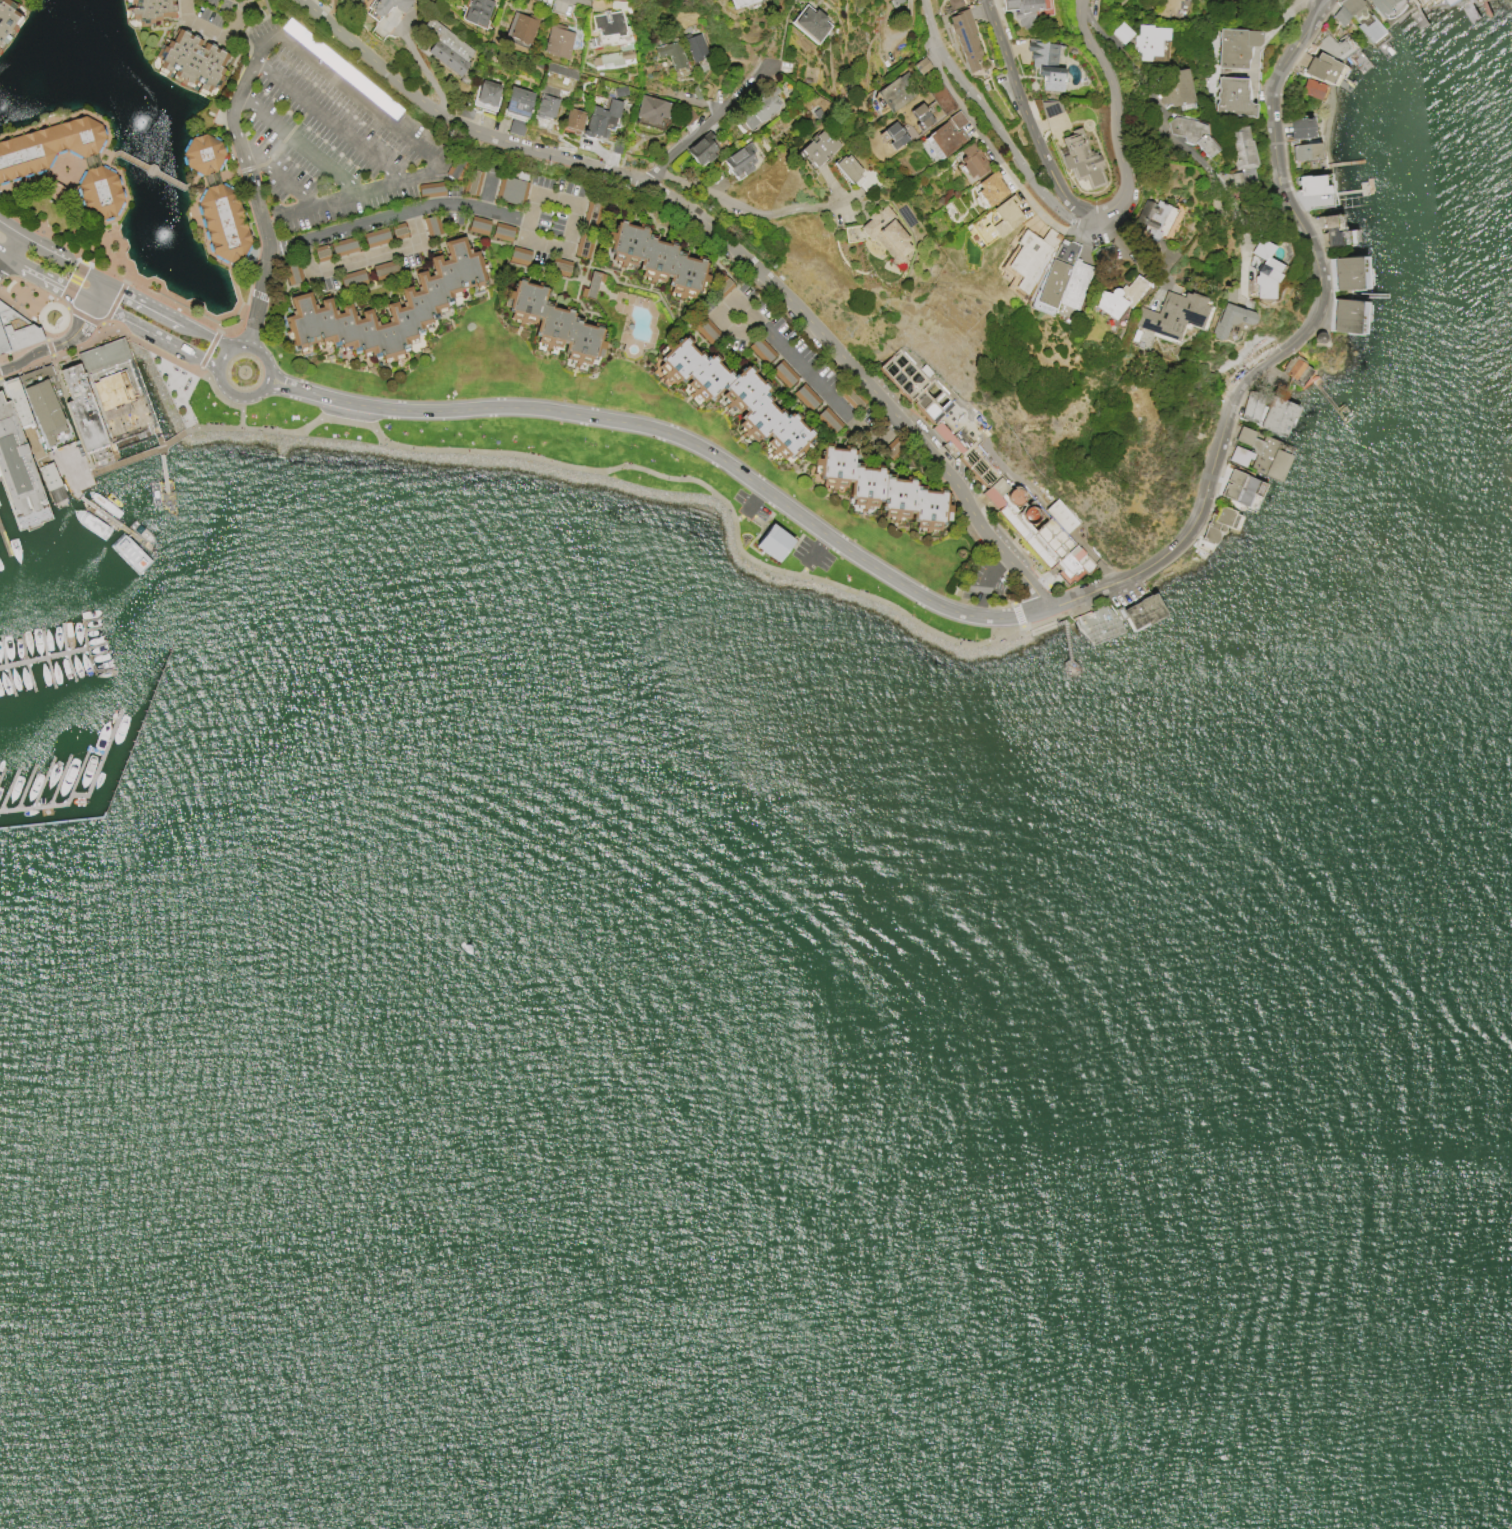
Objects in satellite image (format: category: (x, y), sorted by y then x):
road: (1322, 1)
building: (1511, 1)
building: (738, 2)
building: (1427, 2)
building: (1451, 2)
building: (953, 4)
building: (1383, 5)
building: (387, 6)
building: (896, 8)
building: (1164, 8)
building: (149, 10)
building: (476, 11)
building: (1023, 11)
building: (7, 18)
building: (1356, 18)
building: (810, 23)
building: (609, 24)
building: (520, 26)
building: (379, 29)
building: (1120, 32)
building: (964, 38)
road: (215, 39)
building: (556, 40)
building: (1148, 41)
building: (693, 46)
building: (1234, 46)
building: (1335, 46)
building: (447, 48)
building: (672, 55)
building: (612, 57)
building: (190, 60)
building: (1045, 64)
building: (920, 65)
building: (1319, 67)
building: (1174, 87)
building: (1312, 88)
building: (619, 90)
building: (896, 91)
building: (485, 92)
building: (1230, 97)
building: (940, 98)
road: (1153, 99)
building: (544, 106)
building: (759, 108)
building: (1050, 108)
building: (516, 109)
building: (647, 109)
road: (1028, 113)
building: (919, 115)
road: (1112, 116)
building: (599, 117)
building: (956, 119)
building: (571, 120)
road: (328, 121)
road: (989, 122)
road: (707, 125)
building: (1298, 127)
parking lot: (329, 133)
building: (1191, 134)
building: (893, 135)
building: (945, 138)
road: (298, 145)
building: (47, 146)
building: (819, 146)
building: (1239, 147)
building: (701, 148)
road: (423, 149)
building: (1305, 151)
building: (202, 154)
building: (739, 159)
building: (1080, 159)
building: (972, 160)
building: (847, 167)
building: (455, 168)
road: (275, 169)
road: (154, 171)
road: (56, 173)
road: (224, 177)
building: (471, 182)
road: (253, 184)
building: (1310, 185)
building: (990, 188)
building: (429, 189)
building: (510, 190)
building: (99, 191)
road: (1232, 206)
road: (748, 209)
road: (399, 213)
building: (591, 214)
building: (1150, 217)
building: (996, 220)
building: (222, 223)
building: (431, 225)
building: (478, 225)
building: (397, 231)
building: (501, 231)
building: (1329, 231)
building: (880, 234)
building: (375, 237)
road: (720, 240)
road: (5, 241)
road: (21, 243)
building: (583, 243)
road: (1144, 245)
building: (342, 246)
road: (561, 249)
road: (5, 252)
building: (320, 253)
building: (518, 255)
building: (1030, 256)
road: (363, 257)
road: (1242, 257)
building: (655, 258)
road: (68, 261)
building: (559, 266)
building: (1263, 269)
building: (384, 270)
building: (292, 273)
building: (1345, 273)
road: (46, 279)
building: (351, 279)
building: (1063, 283)
building: (591, 284)
building: (721, 286)
road: (98, 292)
building: (1119, 296)
building: (387, 307)
road: (169, 314)
building: (1171, 314)
building: (1344, 316)
fountain: (52, 318)
building: (1228, 319)
building: (552, 322)
building: (16, 329)
building: (704, 329)
road: (155, 335)
building: (1317, 337)
building: (1143, 339)
building: (2, 344)
road: (53, 345)
road: (1285, 347)
building: (760, 349)
road: (222, 356)
road: (177, 363)
building: (924, 369)
building: (1294, 369)
building: (783, 373)
building: (107, 378)
road: (811, 381)
road: (261, 385)
road: (139, 390)
road: (182, 392)
building: (735, 396)
building: (805, 397)
building: (851, 397)
building: (41, 401)
building: (18, 403)
building: (84, 407)
building: (1250, 407)
building: (1278, 415)
building: (827, 420)
road: (22, 432)
road: (177, 436)
building: (1243, 436)
road: (677, 437)
pier: (69, 439)
road: (83, 443)
building: (893, 447)
road: (161, 450)
pier: (140, 453)
building: (1238, 455)
building: (1268, 457)
building: (15, 466)
road: (162, 467)
road: (73, 469)
road: (640, 469)
building: (987, 469)
building: (50, 482)
road: (71, 485)
building: (1237, 487)
road: (165, 488)
building: (881, 488)
road: (166, 495)
pier: (166, 496)
park: (700, 497)
road: (82, 499)
road: (754, 501)
parking lot: (749, 506)
road: (740, 517)
pier: (112, 521)
building: (1216, 523)
road: (117, 524)
pier: (4, 543)
building: (775, 545)
road: (817, 549)
parking lot: (811, 555)
road: (803, 570)
building: (1139, 611)
building: (1097, 623)
road: (1037, 631)
pier: (44, 657)
pier: (1069, 658)
road: (1072, 675)
pier: (117, 778)
pier: (82, 796)

